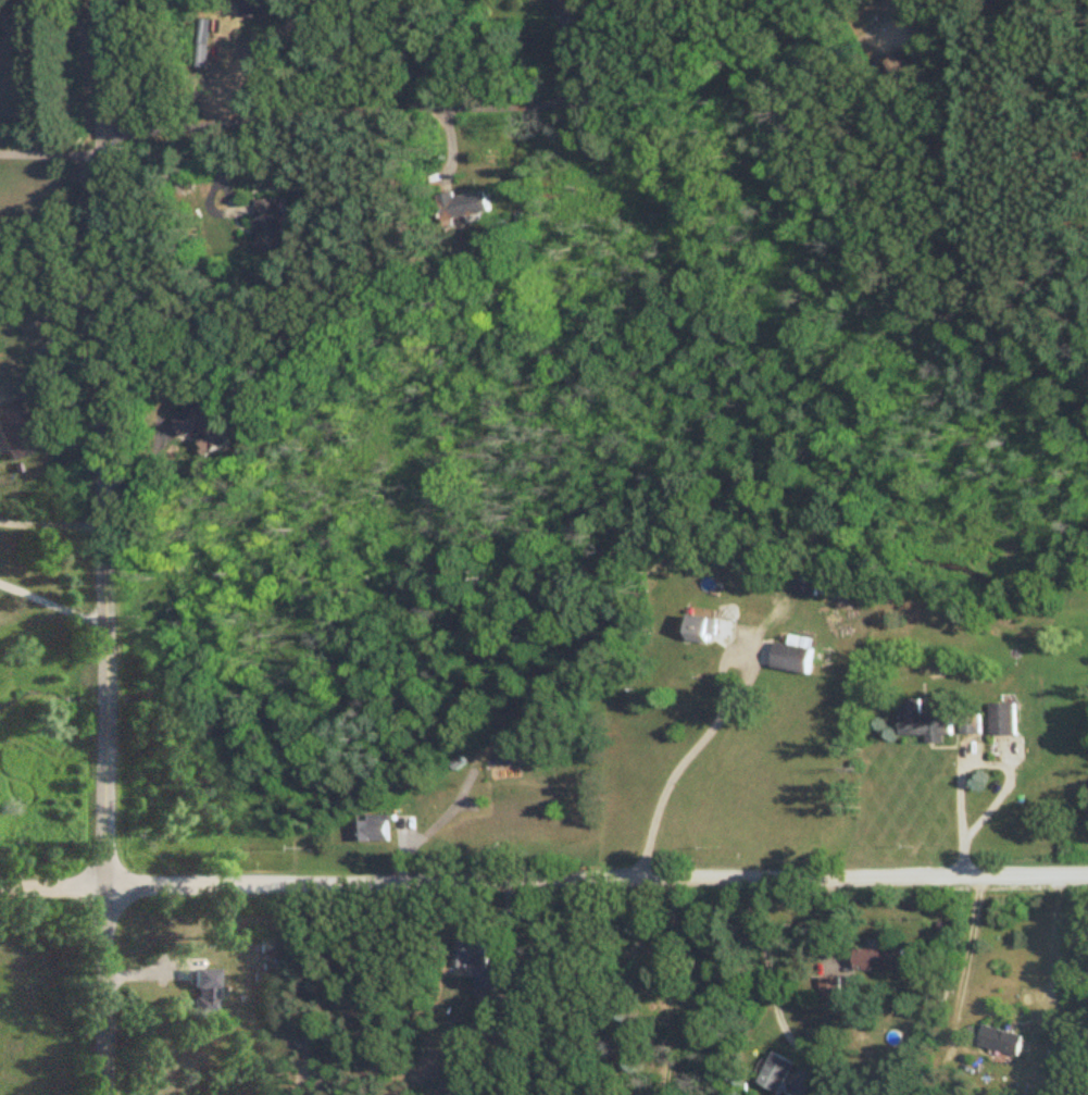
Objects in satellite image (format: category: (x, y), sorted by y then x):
building: (565, 5)
building: (262, 9)
road: (422, 111)
road: (52, 152)
building: (459, 204)
building: (264, 222)
building: (200, 427)
building: (17, 433)
road: (145, 476)
road: (51, 523)
road: (104, 547)
building: (809, 583)
road: (51, 605)
building: (701, 631)
building: (792, 656)
building: (1000, 720)
building: (921, 721)
building: (528, 735)
road: (964, 759)
road: (681, 766)
building: (373, 830)
road: (543, 882)
road: (974, 949)
road: (1054, 953)
building: (471, 955)
building: (879, 959)
road: (770, 980)
building: (488, 987)
building: (204, 992)
building: (1001, 1041)
building: (774, 1073)
building: (781, 1094)

